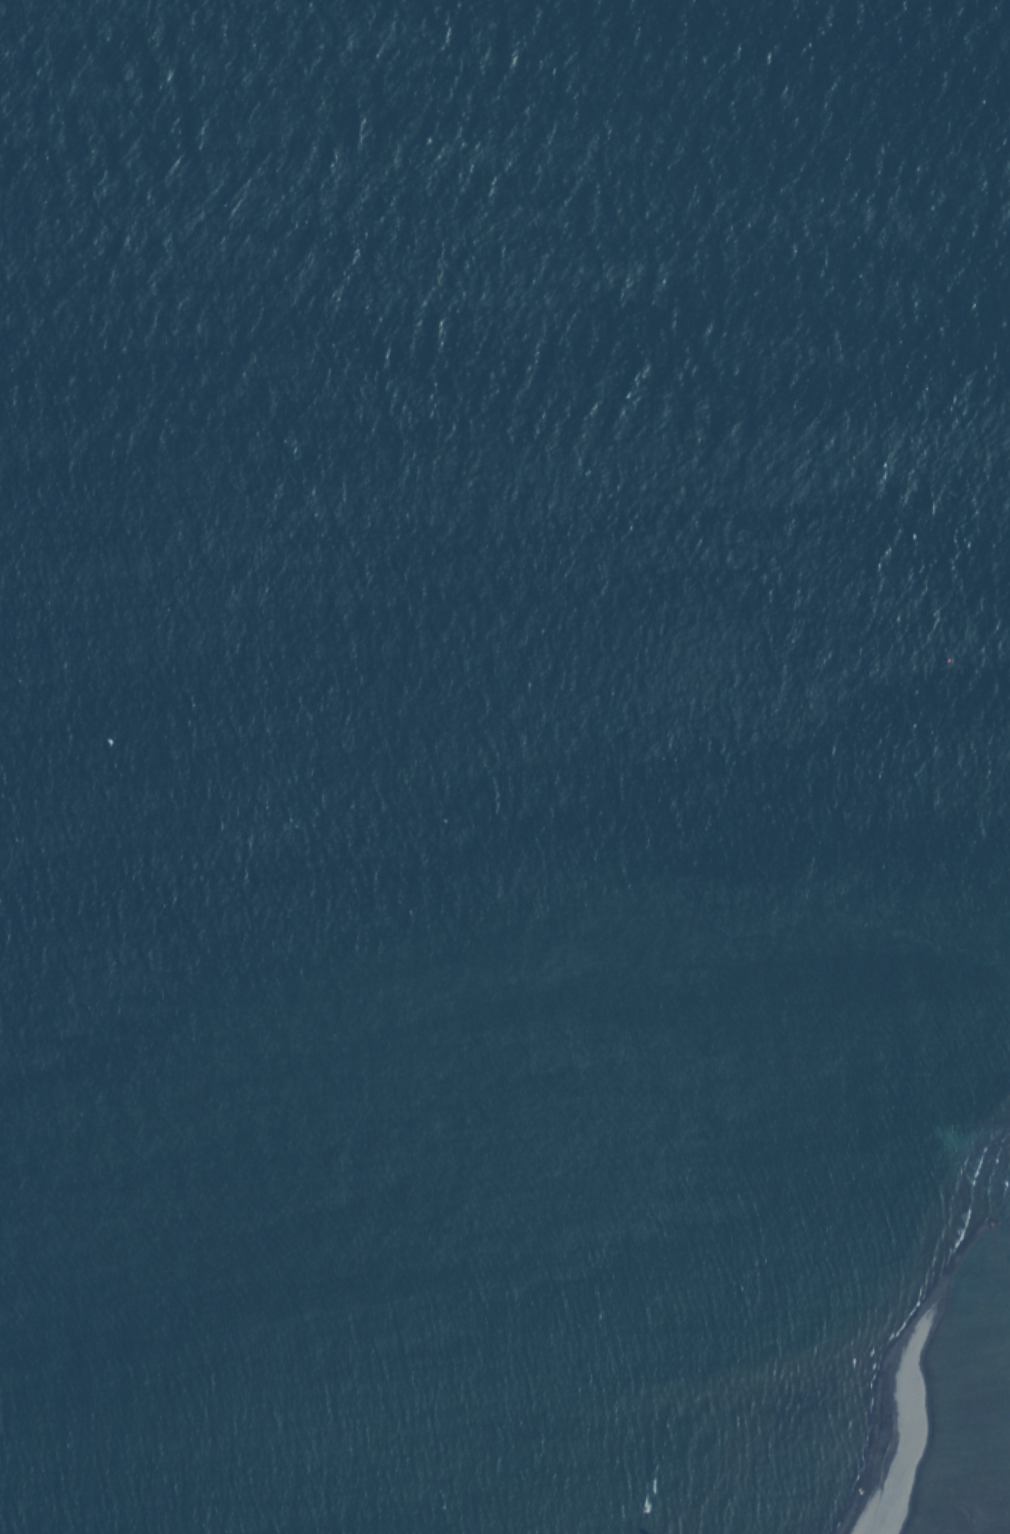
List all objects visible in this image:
river: (505, 1036)

